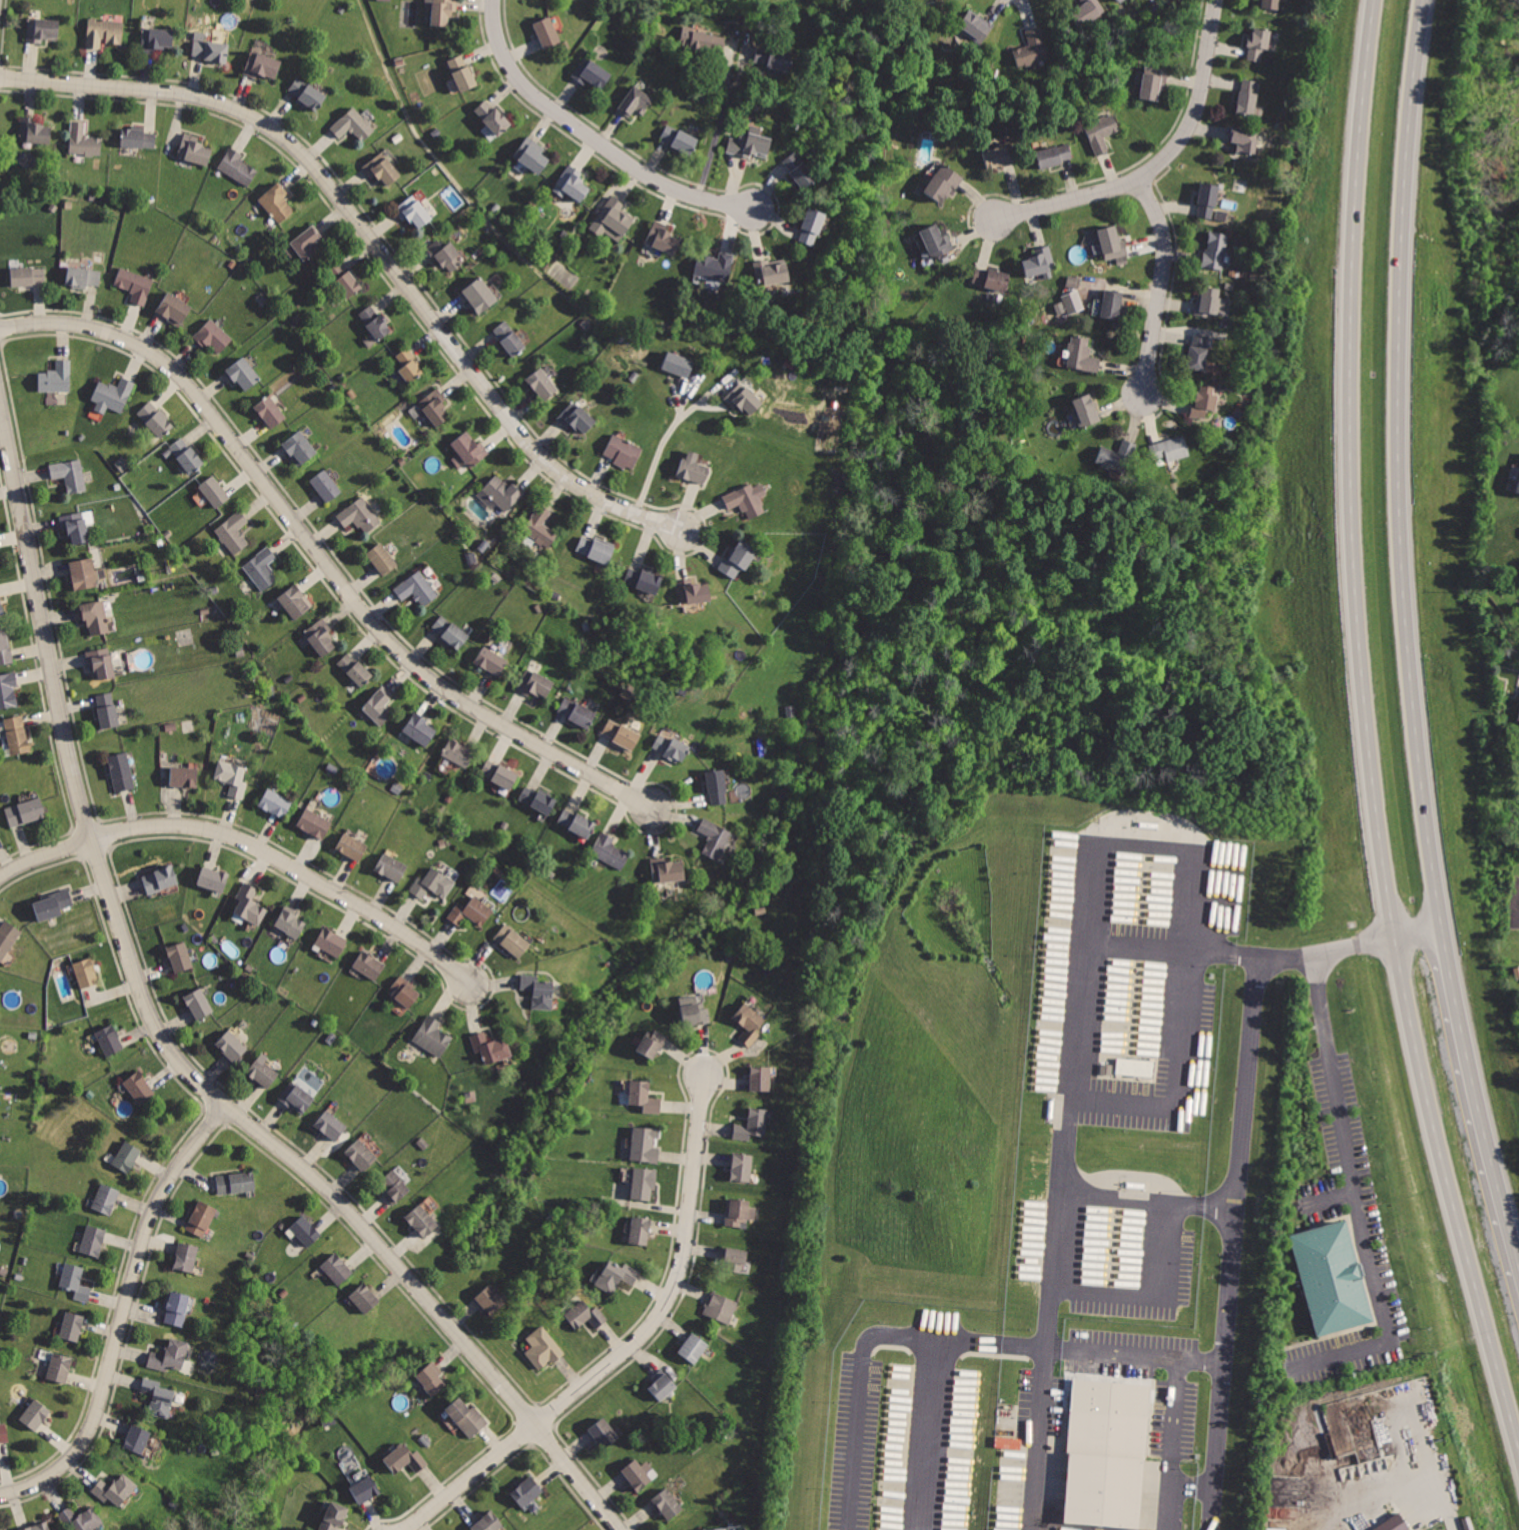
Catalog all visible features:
building: (1119, 0)
building: (1269, 4)
building: (442, 11)
building: (1087, 11)
building: (973, 26)
building: (40, 30)
building: (546, 31)
building: (104, 32)
building: (702, 38)
building: (155, 39)
building: (1257, 45)
building: (1033, 48)
building: (210, 50)
building: (771, 57)
building: (260, 65)
building: (461, 72)
building: (591, 74)
building: (1152, 82)
building: (307, 92)
building: (1248, 98)
building: (634, 102)
road: (723, 115)
building: (492, 118)
building: (353, 125)
building: (34, 133)
building: (1101, 134)
road: (593, 136)
building: (137, 139)
building: (679, 139)
building: (1244, 140)
building: (85, 141)
building: (748, 145)
building: (195, 152)
building: (1052, 153)
building: (998, 156)
building: (531, 160)
road: (1162, 161)
building: (237, 168)
building: (380, 170)
building: (799, 170)
building: (942, 182)
building: (570, 185)
building: (276, 201)
building: (1208, 201)
building: (412, 212)
building: (1220, 214)
building: (610, 221)
building: (810, 229)
building: (662, 239)
building: (936, 241)
building: (306, 243)
road: (374, 243)
building: (1114, 244)
building: (1215, 252)
building: (443, 255)
building: (1040, 261)
building: (713, 269)
building: (770, 273)
building: (30, 276)
building: (83, 276)
building: (344, 279)
building: (991, 279)
building: (1073, 281)
road: (1161, 283)
building: (136, 285)
building: (481, 296)
building: (1074, 301)
building: (1211, 301)
building: (1111, 304)
building: (174, 309)
building: (375, 320)
building: (213, 336)
building: (509, 338)
building: (1198, 351)
building: (1081, 353)
building: (678, 365)
building: (408, 367)
building: (242, 372)
building: (56, 377)
building: (544, 384)
building: (113, 394)
building: (743, 398)
building: (1204, 401)
building: (435, 407)
building: (1085, 409)
building: (270, 412)
building: (577, 417)
building: (157, 419)
building: (299, 447)
building: (1170, 448)
building: (471, 451)
building: (624, 452)
building: (185, 455)
building: (1115, 456)
road: (659, 461)
road: (1398, 465)
building: (691, 468)
building: (70, 474)
building: (326, 487)
building: (1518, 488)
building: (504, 491)
building: (216, 492)
building: (744, 501)
building: (359, 515)
building: (76, 527)
building: (542, 528)
building: (234, 532)
building: (595, 550)
road: (322, 554)
building: (382, 560)
building: (734, 560)
building: (261, 568)
building: (83, 572)
building: (641, 579)
building: (418, 588)
building: (692, 593)
building: (294, 600)
building: (1, 606)
building: (95, 615)
building: (452, 633)
building: (321, 636)
building: (6, 645)
building: (100, 660)
building: (492, 660)
building: (355, 669)
building: (535, 683)
building: (8, 689)
building: (378, 707)
building: (108, 709)
building: (576, 712)
building: (1518, 717)
road: (1367, 727)
building: (419, 729)
building: (17, 733)
building: (621, 735)
building: (669, 749)
building: (459, 753)
building: (122, 772)
building: (498, 775)
building: (183, 777)
building: (232, 778)
building: (716, 786)
building: (536, 800)
building: (276, 804)
building: (26, 811)
building: (575, 823)
building: (314, 825)
building: (714, 839)
building: (353, 848)
building: (610, 852)
road: (46, 856)
road: (1192, 859)
road: (295, 869)
building: (391, 869)
building: (666, 871)
building: (213, 879)
building: (161, 880)
building: (432, 885)
building: (248, 903)
building: (52, 906)
building: (466, 914)
building: (290, 924)
road: (1420, 934)
building: (8, 937)
building: (511, 942)
building: (332, 943)
road: (1160, 945)
road: (1317, 954)
building: (179, 957)
building: (368, 967)
building: (85, 972)
building: (536, 992)
building: (401, 994)
building: (199, 1004)
building: (693, 1013)
building: (748, 1023)
road: (162, 1036)
building: (432, 1038)
building: (110, 1041)
building: (653, 1045)
building: (233, 1046)
building: (490, 1048)
building: (262, 1071)
building: (760, 1079)
building: (140, 1088)
road: (1476, 1092)
building: (642, 1097)
building: (298, 1099)
building: (752, 1125)
building: (332, 1126)
building: (1034, 1136)
building: (645, 1145)
building: (363, 1154)
building: (127, 1156)
building: (741, 1167)
road: (1136, 1172)
building: (237, 1181)
building: (643, 1182)
building: (396, 1188)
building: (106, 1196)
road: (1132, 1196)
road: (1356, 1196)
road: (1221, 1204)
building: (736, 1212)
building: (201, 1218)
building: (421, 1220)
building: (641, 1229)
building: (305, 1231)
building: (93, 1240)
road: (1234, 1243)
building: (185, 1256)
building: (736, 1257)
building: (337, 1268)
building: (618, 1274)
building: (1332, 1275)
building: (76, 1282)
road: (1156, 1295)
building: (365, 1297)
building: (491, 1299)
building: (722, 1307)
building: (177, 1308)
road: (1049, 1312)
road: (123, 1314)
building: (584, 1314)
building: (72, 1326)
road: (871, 1340)
building: (542, 1346)
road: (635, 1347)
building: (695, 1348)
road: (1143, 1353)
building: (168, 1357)
building: (59, 1367)
building: (432, 1378)
building: (665, 1385)
building: (158, 1395)
road: (1176, 1407)
building: (34, 1414)
building: (467, 1417)
building: (4, 1430)
building: (604, 1432)
road: (928, 1434)
building: (135, 1437)
building: (404, 1458)
building: (638, 1474)
road: (1194, 1484)
building: (114, 1489)
building: (364, 1489)
building: (527, 1490)
road: (1168, 1494)
building: (667, 1504)
road: (1456, 1513)
building: (333, 1515)
building: (78, 1518)
building: (487, 1522)
building: (1391, 1524)
building: (37, 1526)
building: (715, 1528)
building: (2, 1529)

